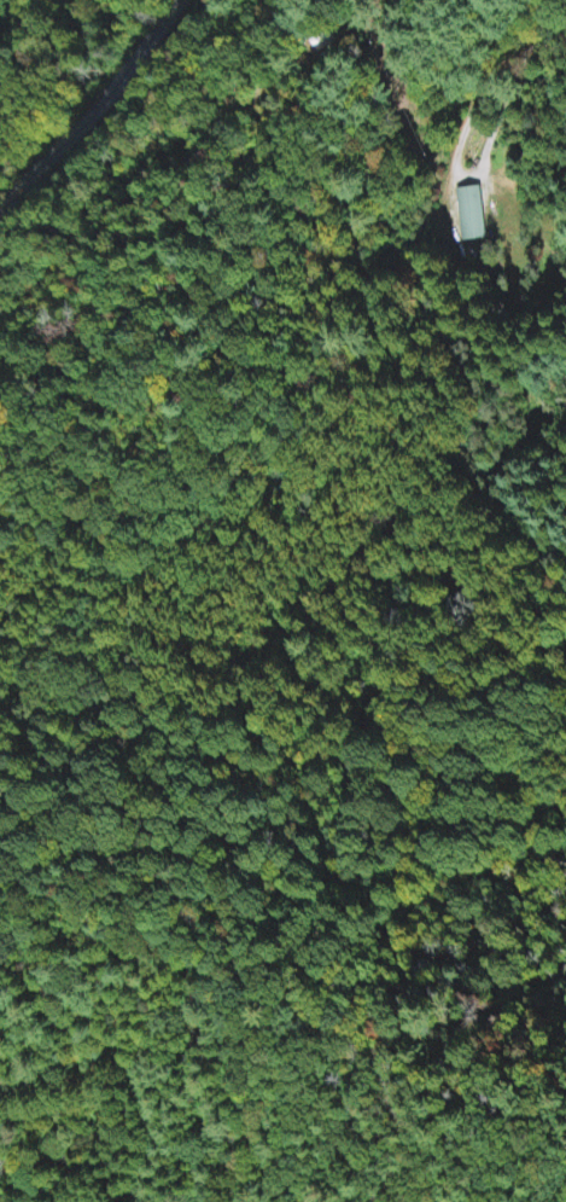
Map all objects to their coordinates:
road: (88, 101)
building: (472, 216)

